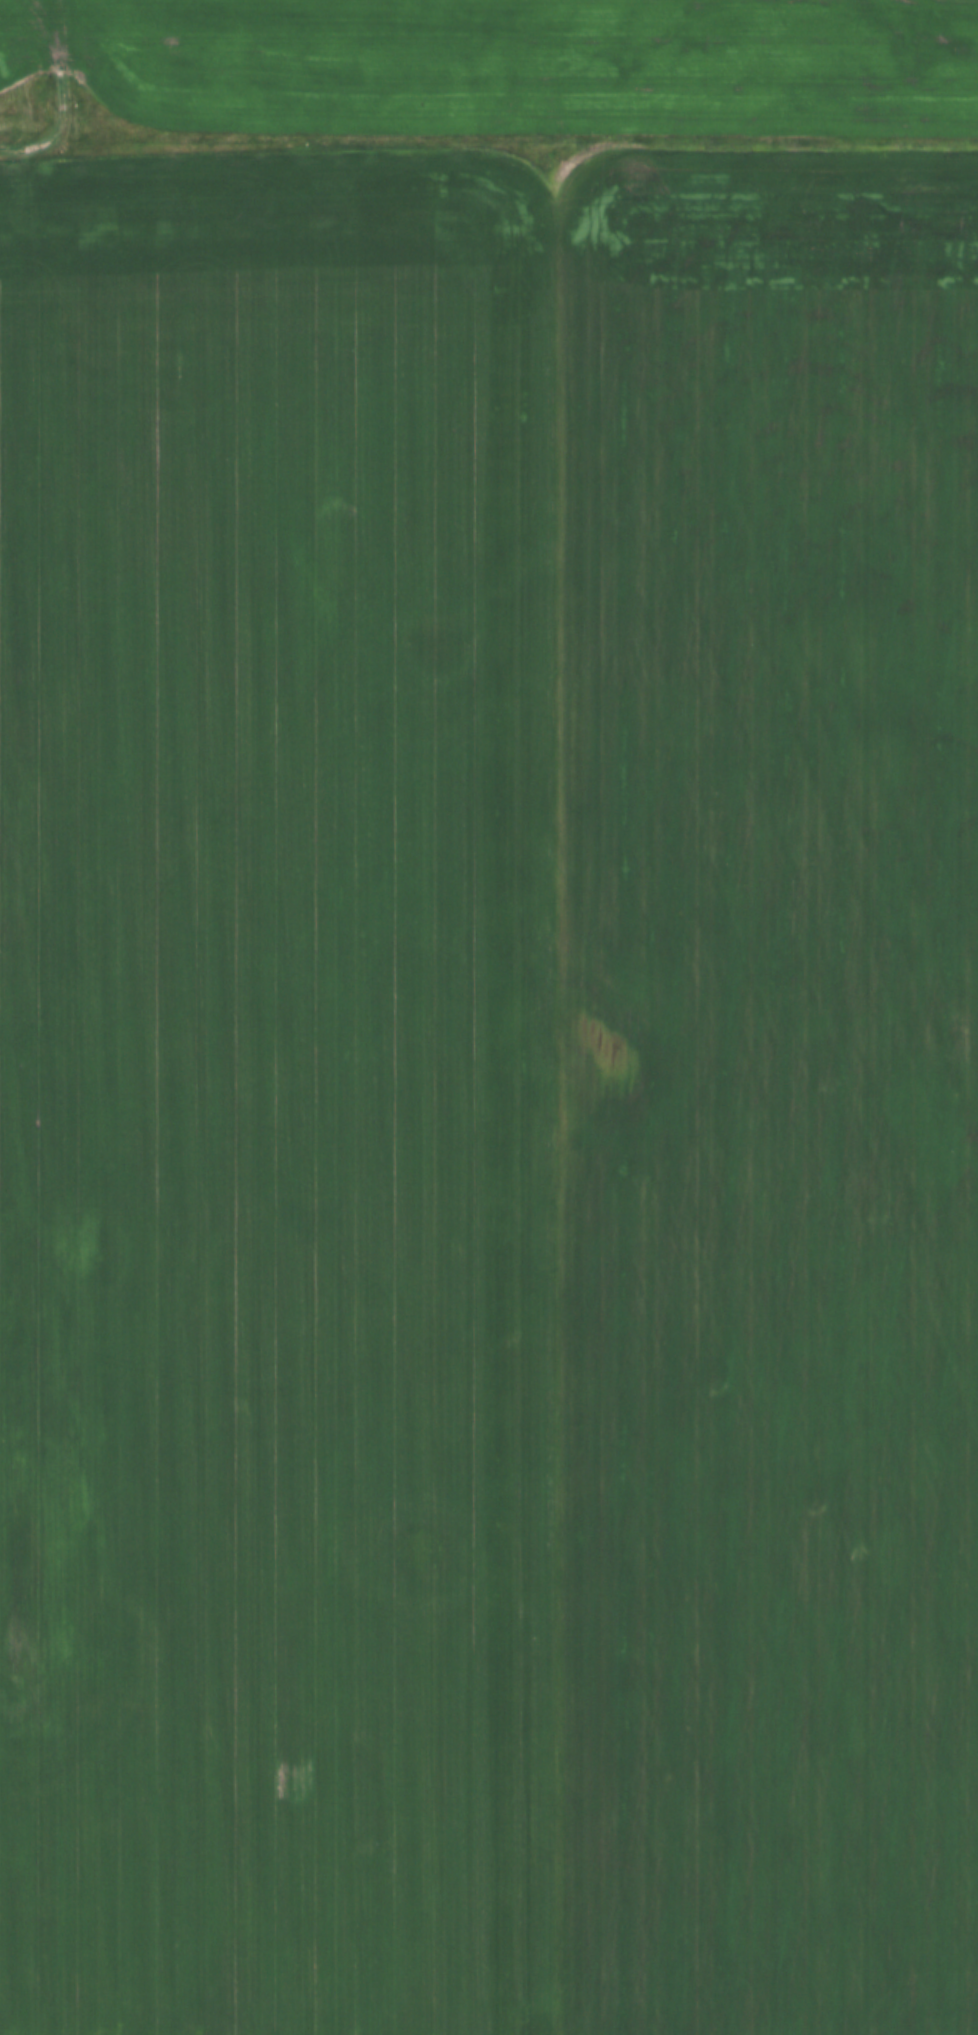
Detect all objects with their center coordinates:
road: (0, 137)
road: (757, 138)

